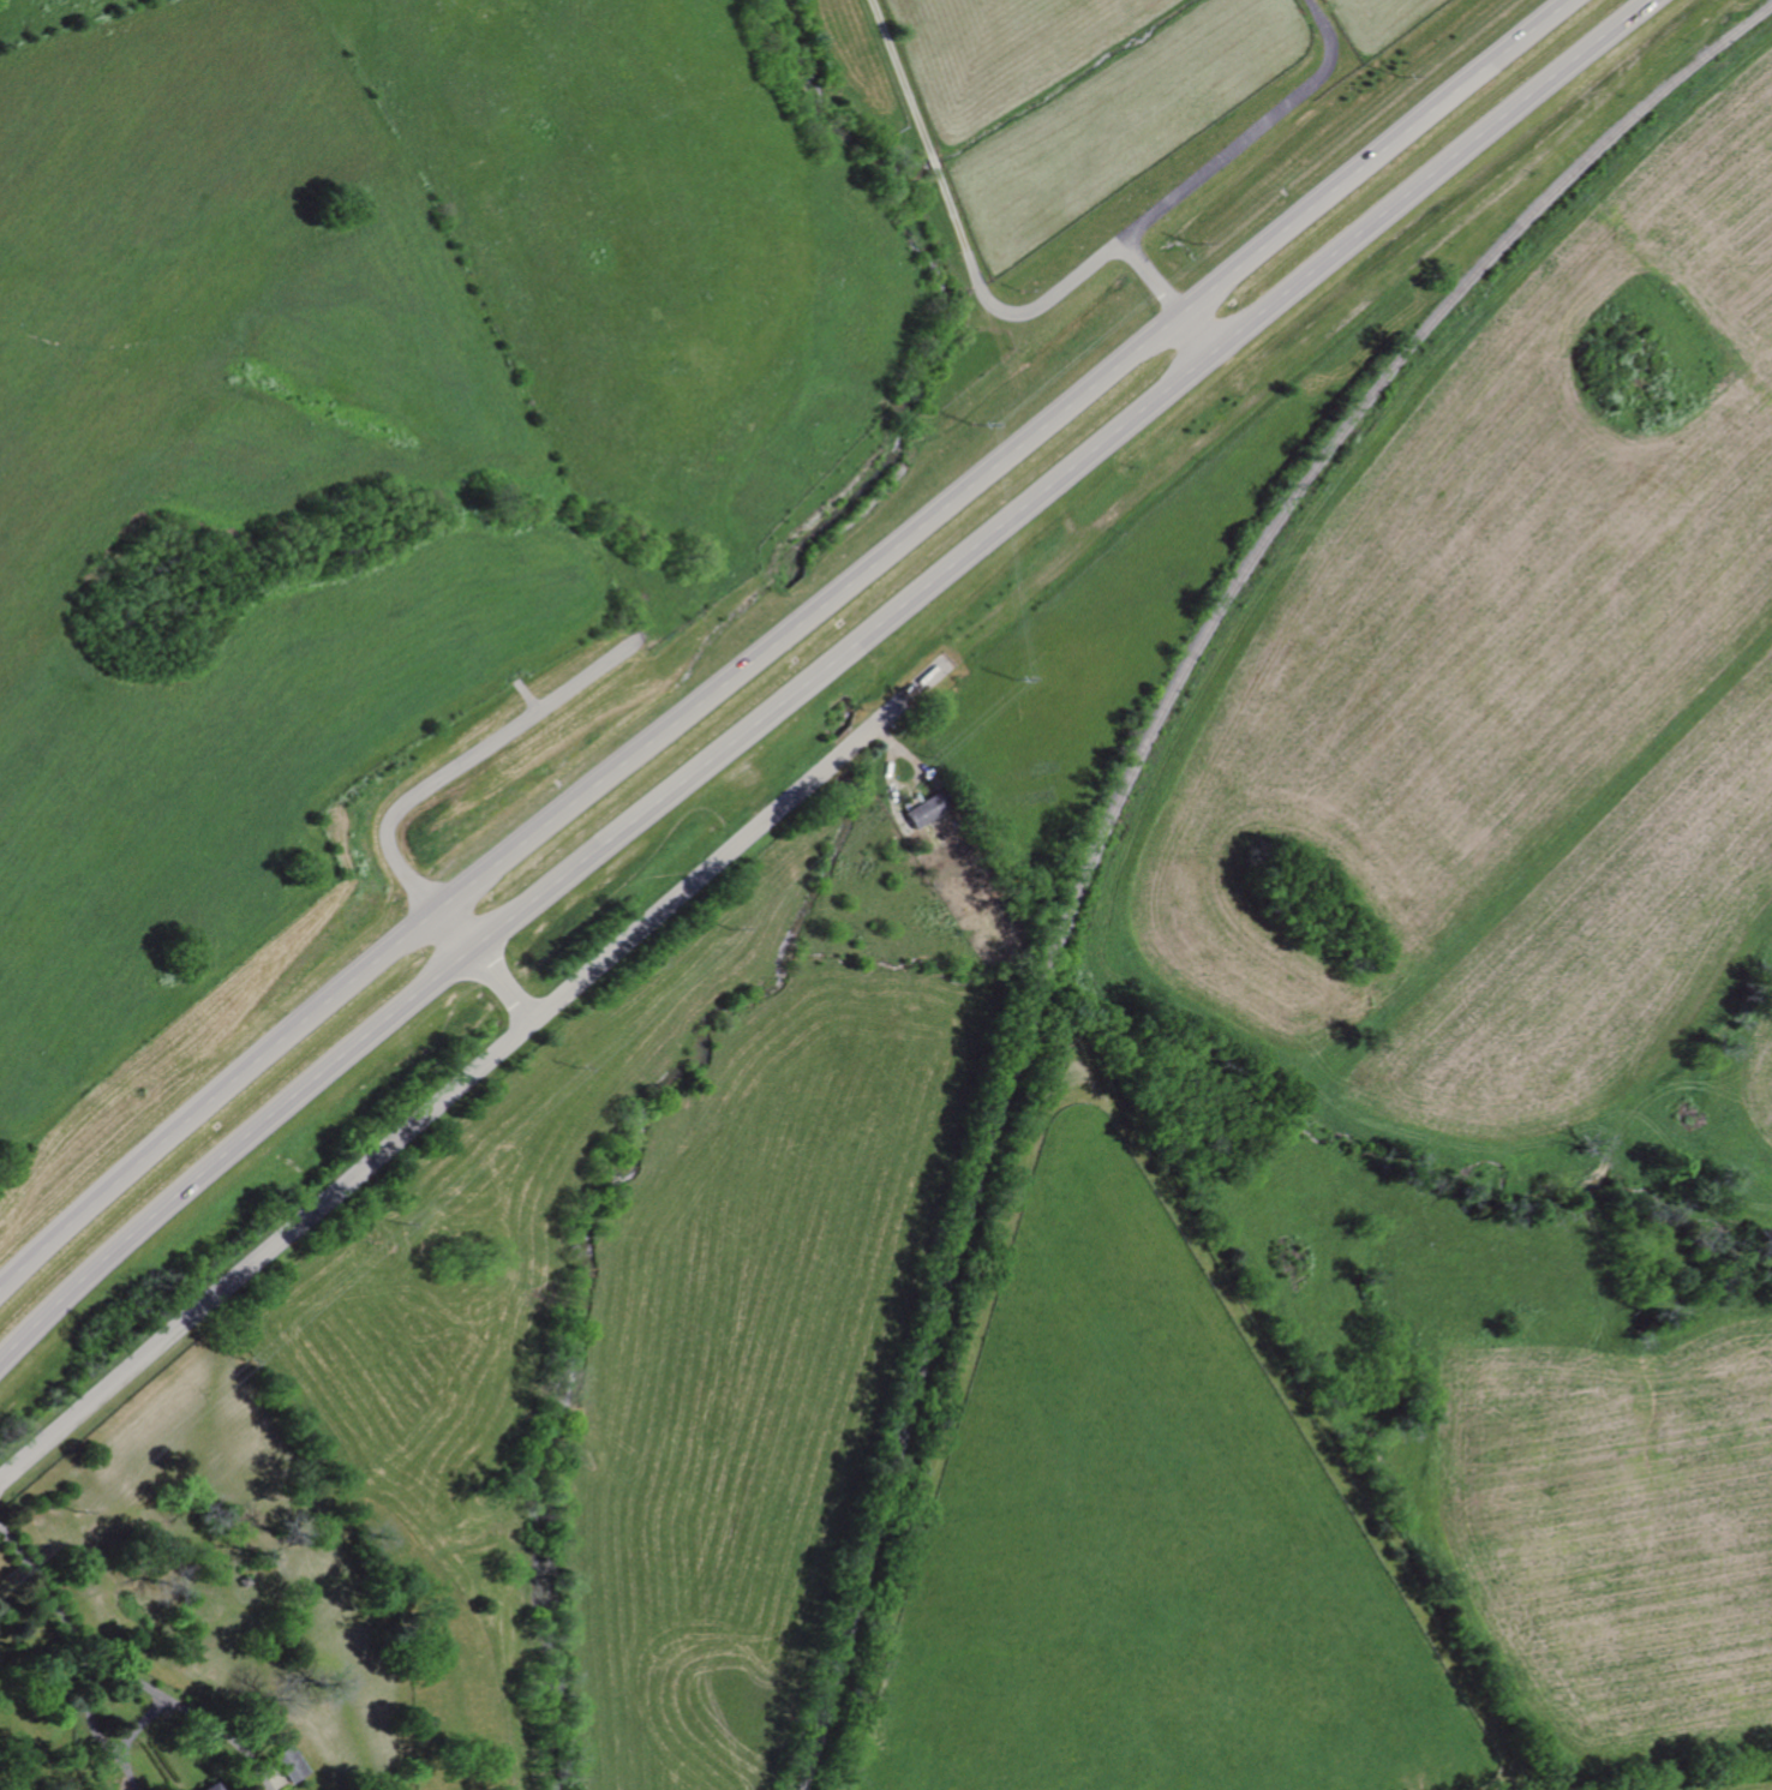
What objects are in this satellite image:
road: (1349, 26)
road: (1229, 149)
road: (1367, 157)
road: (966, 268)
road: (1189, 334)
road: (813, 672)
road: (581, 794)
railway: (1115, 800)
building: (923, 812)
road: (455, 932)
road: (497, 986)
road: (441, 1090)
road: (125, 1669)
road: (94, 1717)
building: (289, 1764)
building: (212, 1786)

